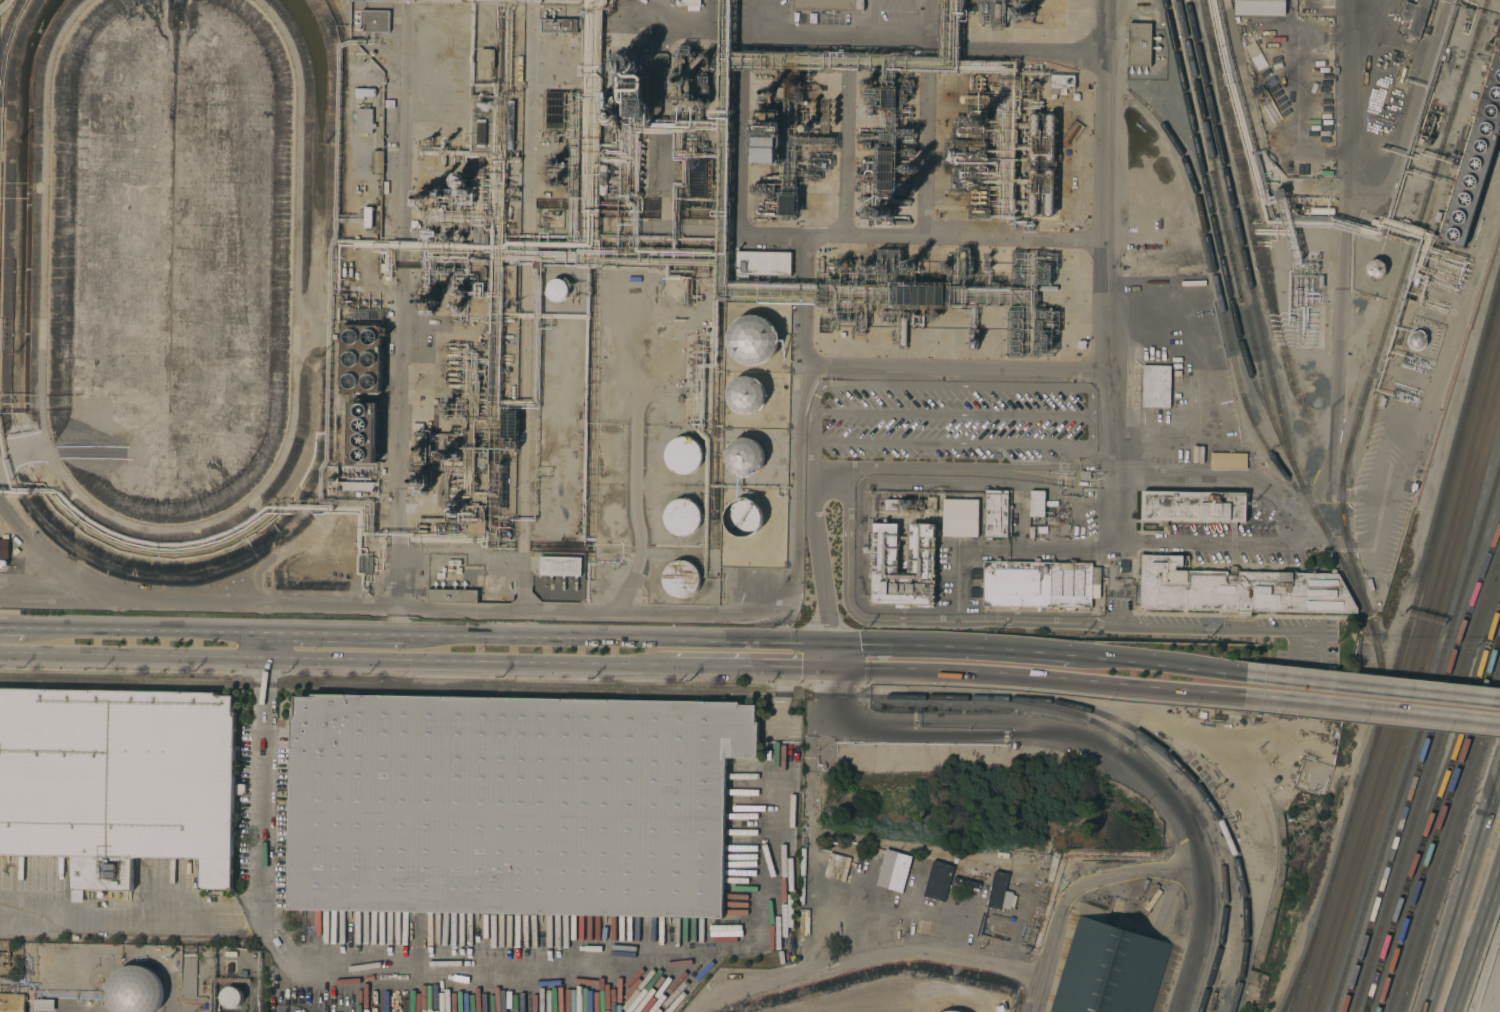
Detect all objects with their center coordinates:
building: (689, 4)
building: (828, 4)
building: (1259, 7)
building: (998, 14)
building: (1417, 17)
building: (374, 21)
building: (559, 25)
building: (1139, 44)
road: (1042, 54)
building: (486, 58)
building: (629, 62)
building: (519, 68)
building: (684, 77)
building: (1061, 84)
building: (364, 92)
road: (1348, 94)
building: (889, 98)
building: (975, 98)
building: (554, 107)
building: (607, 115)
building: (364, 121)
building: (481, 123)
building: (1066, 131)
building: (971, 132)
building: (1034, 136)
building: (1050, 136)
building: (765, 149)
building: (969, 151)
building: (430, 152)
road: (846, 158)
road: (926, 158)
building: (1475, 161)
building: (377, 162)
building: (886, 168)
building: (697, 177)
building: (603, 179)
building: (1493, 179)
building: (460, 180)
building: (1033, 192)
building: (1049, 192)
building: (428, 196)
building: (788, 205)
building: (1318, 210)
railway: (1226, 212)
building: (367, 216)
railway: (1242, 236)
road: (845, 238)
building: (889, 262)
building: (388, 263)
building: (763, 263)
building: (963, 265)
building: (1018, 266)
road: (1106, 269)
building: (1376, 269)
building: (1043, 273)
railway: (1226, 273)
building: (489, 288)
building: (557, 289)
building: (921, 294)
road: (1458, 318)
building: (903, 331)
building: (1015, 332)
building: (1043, 340)
building: (1417, 340)
building: (753, 341)
building: (361, 359)
railway: (1236, 364)
road: (954, 370)
railway: (1371, 378)
building: (1222, 384)
building: (1155, 386)
road: (816, 390)
building: (746, 395)
building: (509, 425)
building: (362, 432)
road: (812, 439)
road: (964, 442)
building: (421, 448)
building: (683, 455)
building: (744, 457)
building: (1228, 460)
road: (927, 466)
building: (931, 503)
building: (1037, 503)
building: (903, 505)
building: (1194, 506)
building: (996, 513)
road: (847, 515)
building: (682, 517)
building: (743, 517)
building: (960, 517)
road: (1296, 517)
building: (474, 519)
building: (447, 528)
road: (1066, 546)
building: (4, 548)
building: (921, 548)
road: (637, 559)
building: (560, 565)
building: (681, 579)
building: (1040, 584)
building: (1374, 585)
building: (1239, 589)
building: (452, 596)
road: (394, 599)
road: (514, 616)
road: (12, 628)
road: (147, 631)
road: (348, 635)
road: (629, 641)
traffic signals: (833, 646)
road: (959, 649)
railway: (1401, 653)
road: (320, 659)
road: (738, 667)
road: (1166, 667)
traffic signals: (836, 669)
railway: (1406, 669)
road: (1041, 677)
railway: (435, 687)
railway: (1410, 688)
road: (1374, 690)
railway: (1415, 706)
road: (1373, 708)
railway: (1416, 742)
railway: (1158, 745)
railway: (1419, 770)
railway: (1450, 770)
building: (118, 780)
road: (1144, 782)
road: (266, 786)
railway: (1425, 786)
railway: (1179, 793)
building: (511, 804)
road: (1482, 819)
railway: (1440, 825)
railway: (1446, 839)
railway: (1451, 853)
road: (1155, 869)
building: (893, 870)
building: (938, 881)
building: (997, 890)
road: (834, 906)
road: (113, 908)
railway: (1225, 928)
building: (1027, 932)
road: (865, 937)
road: (1477, 938)
road: (1444, 943)
road: (869, 960)
building: (1109, 970)
railway: (1380, 970)
road: (593, 974)
railway: (1297, 982)
building: (134, 990)
road: (1037, 995)
building: (230, 996)
building: (12, 1002)
building: (43, 1005)
building: (953, 1011)

